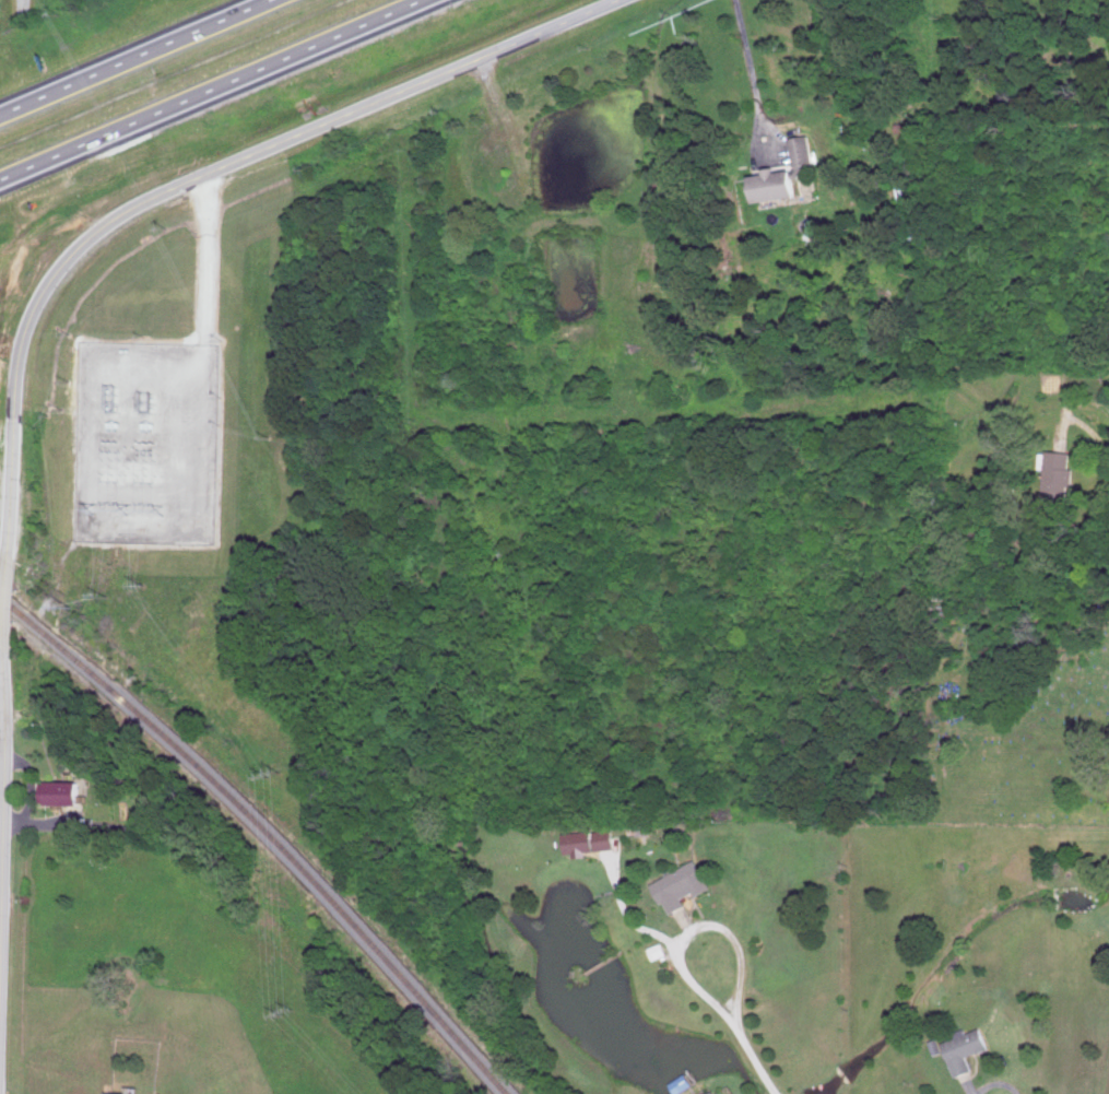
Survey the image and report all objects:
road: (23, 10)
road: (131, 56)
road: (752, 82)
road: (212, 90)
road: (285, 141)
building: (801, 149)
building: (777, 183)
road: (205, 349)
power substation: (145, 443)
road: (13, 455)
building: (1060, 471)
road: (1092, 490)
road: (9, 602)
building: (62, 791)
road: (3, 823)
railway: (267, 832)
building: (589, 840)
building: (683, 884)
road: (1, 901)
road: (724, 927)
building: (966, 1048)
road: (751, 1058)
road: (1108, 1090)
building: (117, 1093)

